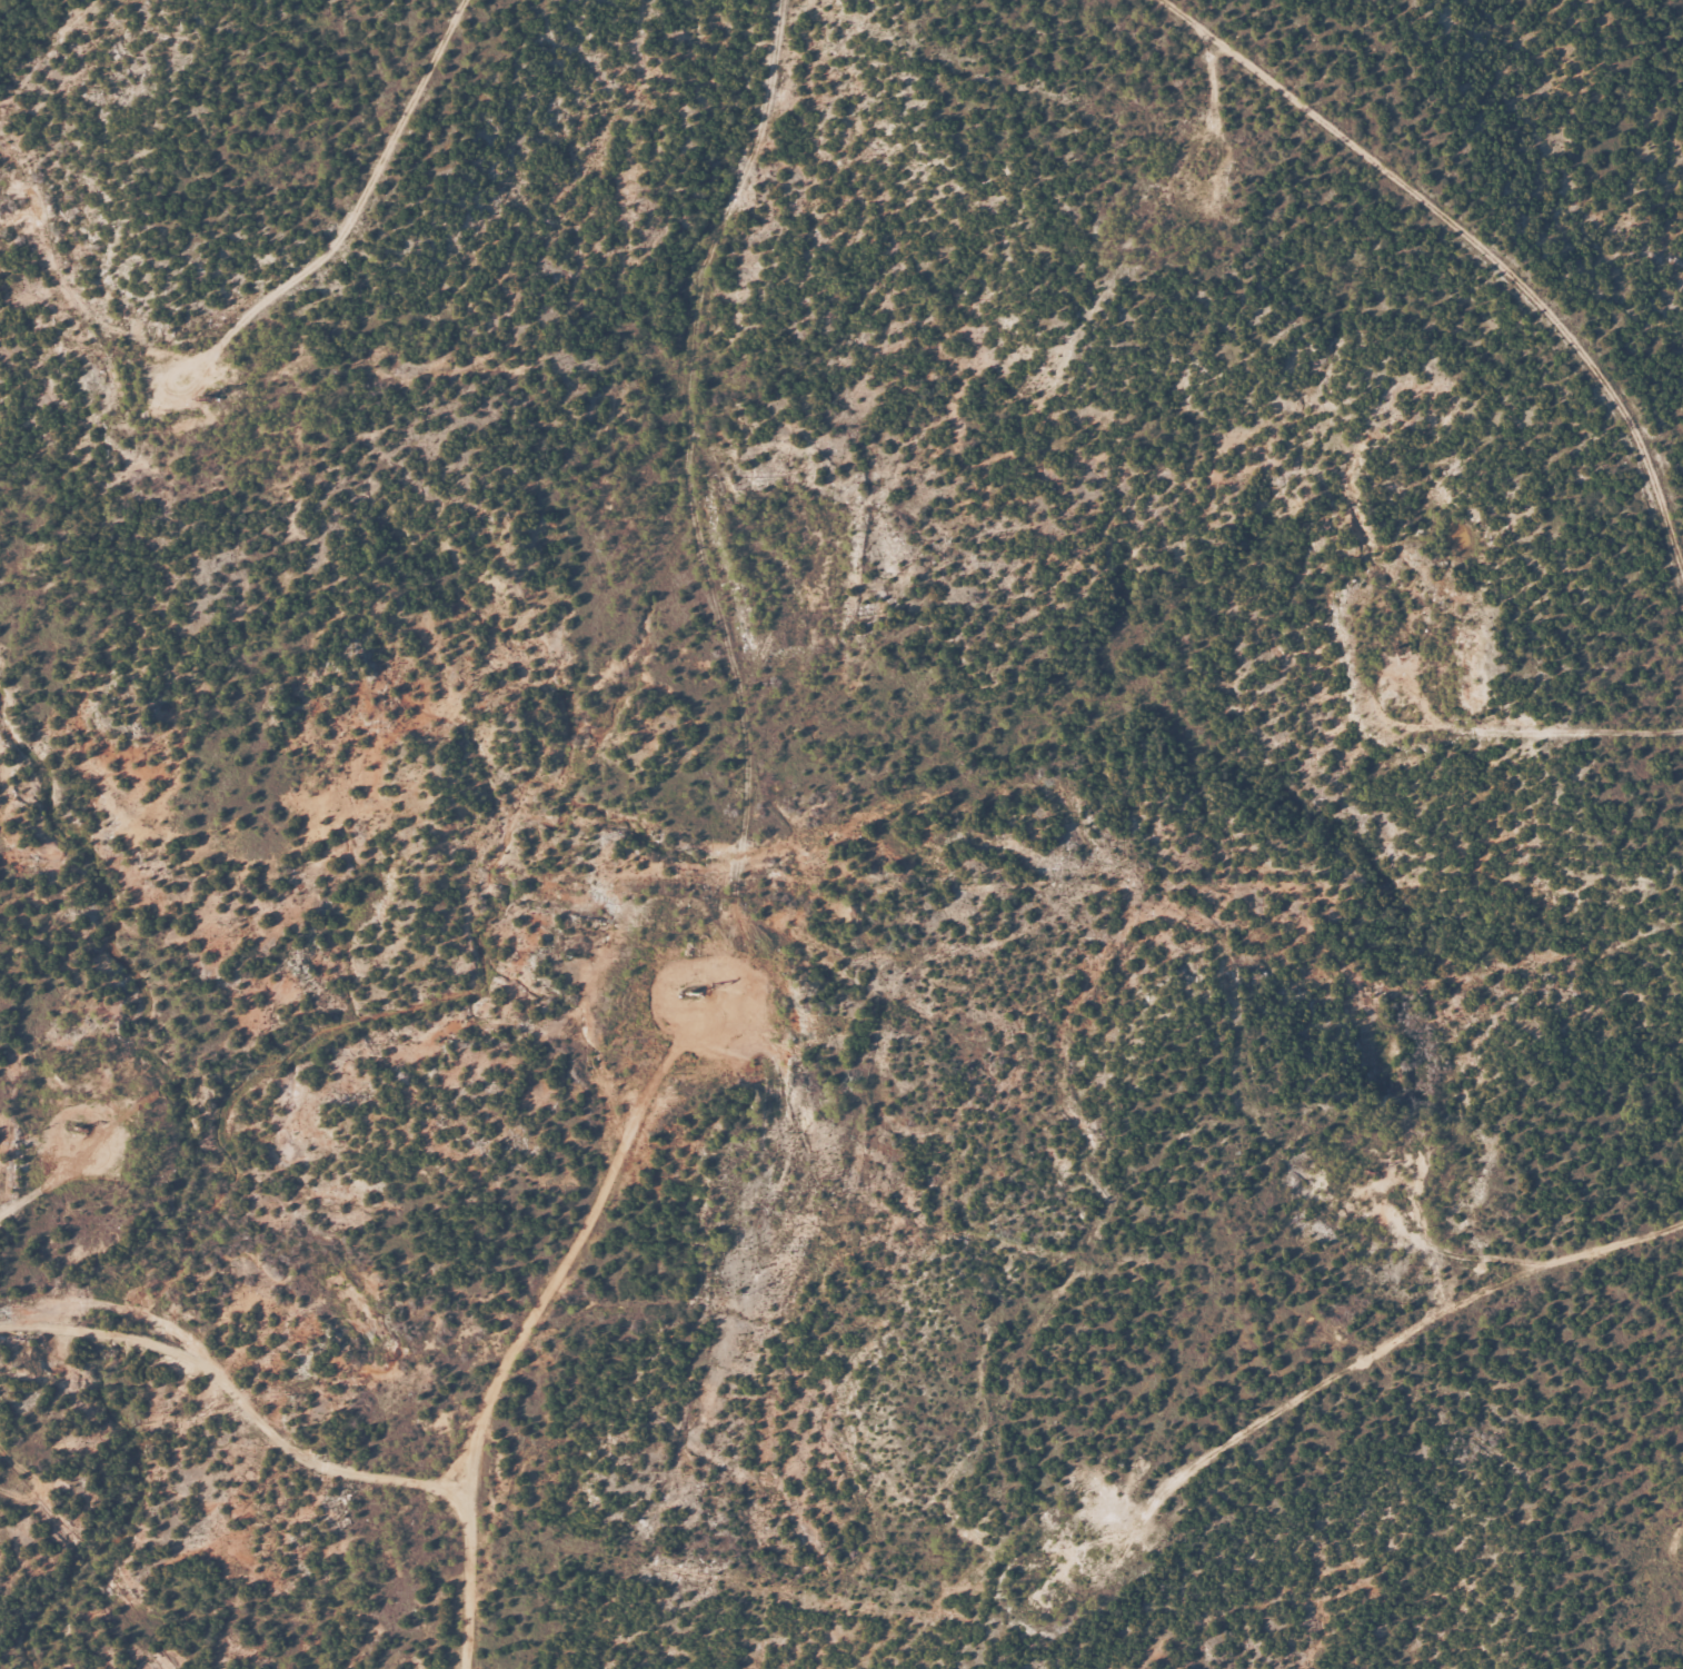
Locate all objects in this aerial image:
petroleum well: (205, 386)
road: (707, 848)
petroleum well: (80, 1124)
petroleum well: (1368, 1163)

